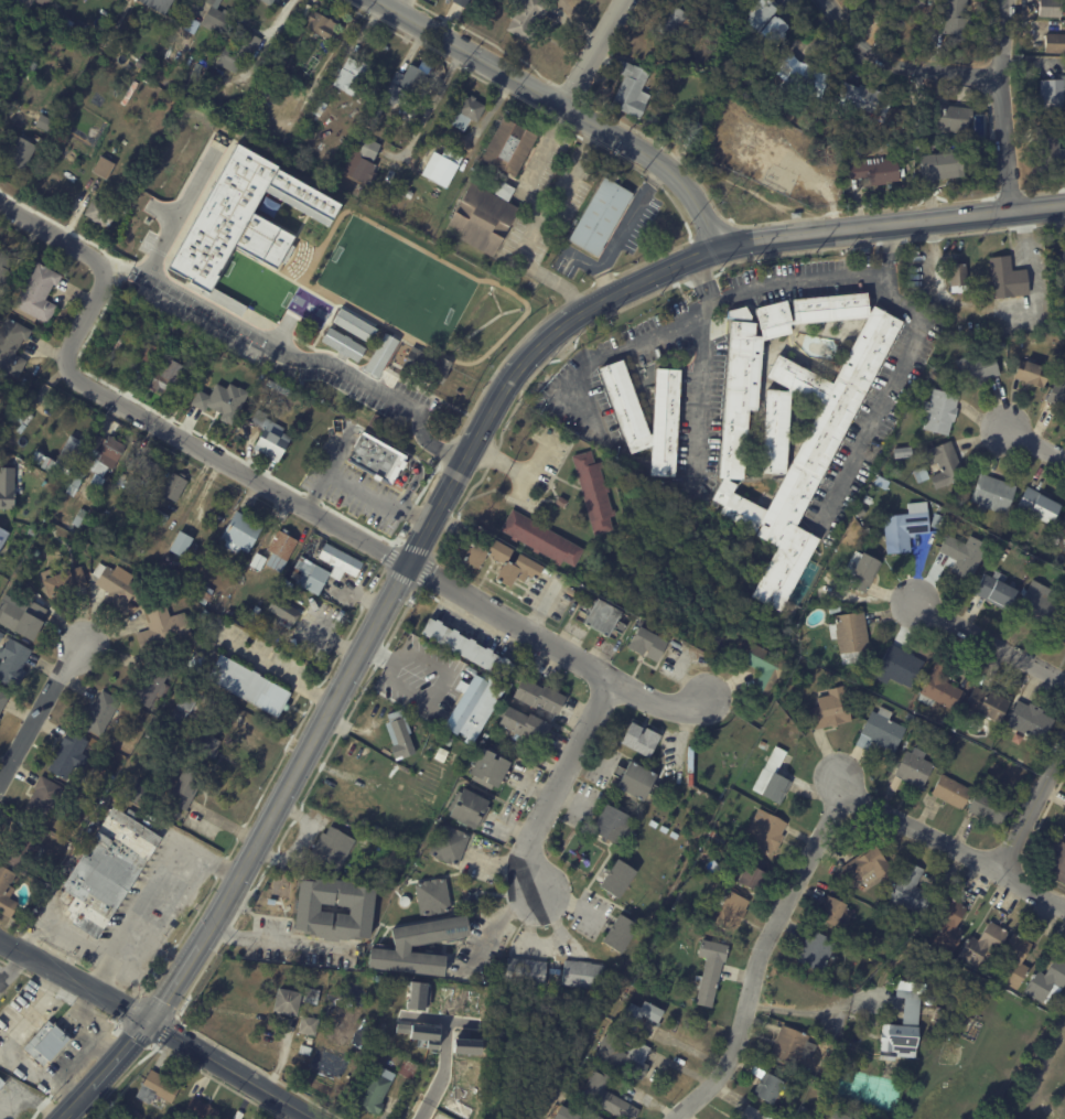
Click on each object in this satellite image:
building: (69, 0)
building: (267, 1)
building: (42, 2)
building: (22, 3)
building: (461, 3)
building: (158, 4)
road: (192, 4)
road: (402, 7)
building: (1051, 9)
building: (303, 10)
building: (214, 15)
building: (527, 20)
building: (955, 20)
building: (766, 21)
building: (673, 22)
building: (319, 24)
building: (191, 25)
building: (1055, 43)
building: (288, 44)
building: (320, 45)
building: (237, 54)
road: (599, 56)
building: (139, 64)
building: (275, 64)
road: (900, 65)
building: (334, 69)
building: (348, 76)
building: (275, 77)
building: (798, 78)
building: (402, 85)
building: (327, 89)
building: (128, 93)
building: (630, 93)
building: (29, 95)
building: (1052, 96)
road: (434, 101)
building: (863, 101)
road: (1002, 105)
road: (561, 107)
building: (467, 112)
building: (374, 117)
building: (441, 117)
building: (947, 119)
building: (41, 122)
building: (919, 129)
building: (691, 137)
building: (906, 138)
building: (507, 147)
building: (1050, 152)
building: (18, 153)
building: (361, 160)
building: (104, 168)
building: (942, 168)
building: (439, 169)
building: (873, 173)
building: (406, 193)
building: (98, 212)
building: (599, 216)
building: (795, 216)
building: (482, 217)
building: (249, 225)
road: (622, 230)
building: (863, 251)
road: (890, 254)
building: (1062, 267)
building: (3, 269)
building: (957, 276)
road: (1036, 277)
building: (1007, 279)
road: (158, 287)
building: (36, 293)
building: (363, 308)
building: (738, 313)
road: (918, 324)
building: (353, 325)
building: (989, 329)
building: (997, 330)
building: (173, 332)
building: (117, 340)
building: (1000, 343)
building: (342, 344)
building: (10, 346)
road: (628, 346)
building: (149, 354)
building: (232, 363)
building: (427, 365)
building: (977, 369)
road: (349, 370)
building: (1031, 374)
building: (935, 376)
building: (164, 379)
building: (280, 388)
road: (701, 398)
building: (1057, 399)
building: (224, 408)
building: (625, 411)
building: (939, 412)
building: (24, 417)
building: (269, 435)
building: (819, 441)
road: (1035, 444)
road: (341, 445)
building: (902, 453)
road: (406, 454)
building: (106, 455)
building: (63, 456)
building: (376, 459)
building: (944, 464)
building: (141, 467)
building: (76, 478)
building: (119, 478)
road: (358, 483)
building: (882, 483)
building: (131, 485)
building: (94, 486)
building: (172, 487)
building: (6, 488)
building: (593, 493)
road: (280, 494)
building: (992, 494)
road: (443, 495)
building: (959, 501)
building: (560, 502)
building: (1039, 506)
building: (860, 513)
building: (158, 517)
building: (77, 518)
building: (936, 523)
building: (905, 528)
building: (1061, 530)
building: (30, 531)
building: (868, 531)
building: (401, 532)
building: (238, 534)
building: (2, 536)
building: (540, 540)
building: (177, 545)
building: (279, 550)
building: (964, 556)
building: (1062, 556)
building: (340, 561)
building: (256, 562)
building: (501, 564)
building: (1042, 571)
building: (863, 574)
building: (309, 577)
building: (62, 583)
building: (286, 584)
building: (114, 585)
building: (571, 591)
building: (996, 591)
building: (200, 592)
building: (411, 598)
building: (276, 606)
building: (1039, 607)
building: (833, 609)
building: (203, 615)
building: (289, 615)
building: (21, 617)
building: (236, 618)
building: (601, 620)
building: (1061, 630)
building: (161, 631)
building: (0, 635)
building: (849, 636)
road: (989, 641)
building: (645, 645)
building: (467, 648)
building: (11, 664)
building: (192, 664)
road: (286, 666)
building: (899, 667)
building: (764, 669)
building: (149, 686)
building: (246, 687)
building: (939, 689)
building: (537, 695)
building: (2, 699)
building: (473, 704)
building: (986, 706)
building: (180, 710)
building: (200, 710)
road: (41, 713)
building: (829, 713)
building: (97, 714)
building: (910, 718)
building: (521, 723)
building: (1029, 723)
building: (880, 732)
building: (398, 735)
building: (948, 738)
building: (638, 739)
building: (447, 740)
building: (763, 744)
building: (128, 745)
building: (206, 745)
building: (67, 756)
building: (913, 768)
building: (488, 770)
building: (771, 777)
building: (634, 779)
road: (558, 784)
building: (184, 789)
building: (950, 793)
building: (139, 796)
building: (41, 799)
road: (1031, 805)
building: (466, 808)
building: (987, 809)
road: (297, 814)
building: (86, 820)
building: (611, 824)
building: (765, 830)
building: (368, 836)
building: (1064, 836)
building: (1064, 837)
building: (719, 840)
building: (448, 844)
building: (61, 847)
road: (955, 847)
building: (22, 848)
building: (330, 849)
building: (1055, 862)
building: (867, 865)
building: (106, 870)
building: (751, 872)
building: (616, 879)
building: (910, 890)
building: (6, 893)
building: (431, 895)
building: (674, 905)
building: (359, 908)
building: (731, 911)
building: (835, 913)
road: (161, 919)
road: (131, 922)
road: (513, 922)
building: (948, 924)
building: (618, 933)
road: (277, 940)
building: (982, 944)
building: (401, 947)
building: (815, 949)
building: (53, 950)
road: (761, 958)
building: (69, 960)
building: (1014, 961)
road: (11, 962)
building: (709, 970)
building: (525, 971)
road: (103, 972)
building: (581, 975)
building: (152, 976)
building: (1047, 982)
building: (418, 996)
building: (929, 997)
building: (291, 999)
road: (811, 1003)
building: (638, 1012)
building: (938, 1014)
road: (439, 1020)
traffic signals: (150, 1022)
building: (306, 1025)
building: (902, 1025)
road: (158, 1026)
road: (166, 1031)
building: (419, 1033)
building: (309, 1041)
building: (49, 1043)
building: (464, 1045)
building: (792, 1045)
building: (303, 1048)
building: (623, 1053)
building: (398, 1058)
road: (256, 1068)
building: (406, 1068)
building: (813, 1070)
road: (442, 1072)
building: (3, 1080)
road: (119, 1080)
road: (218, 1083)
building: (767, 1087)
building: (155, 1088)
building: (374, 1090)
building: (606, 1097)
building: (198, 1110)
building: (804, 1110)
building: (749, 1111)
building: (564, 1113)
building: (237, 1115)
building: (136, 1116)
building: (593, 1117)
building: (143, 1118)
building: (230, 1118)
building: (232, 1118)

